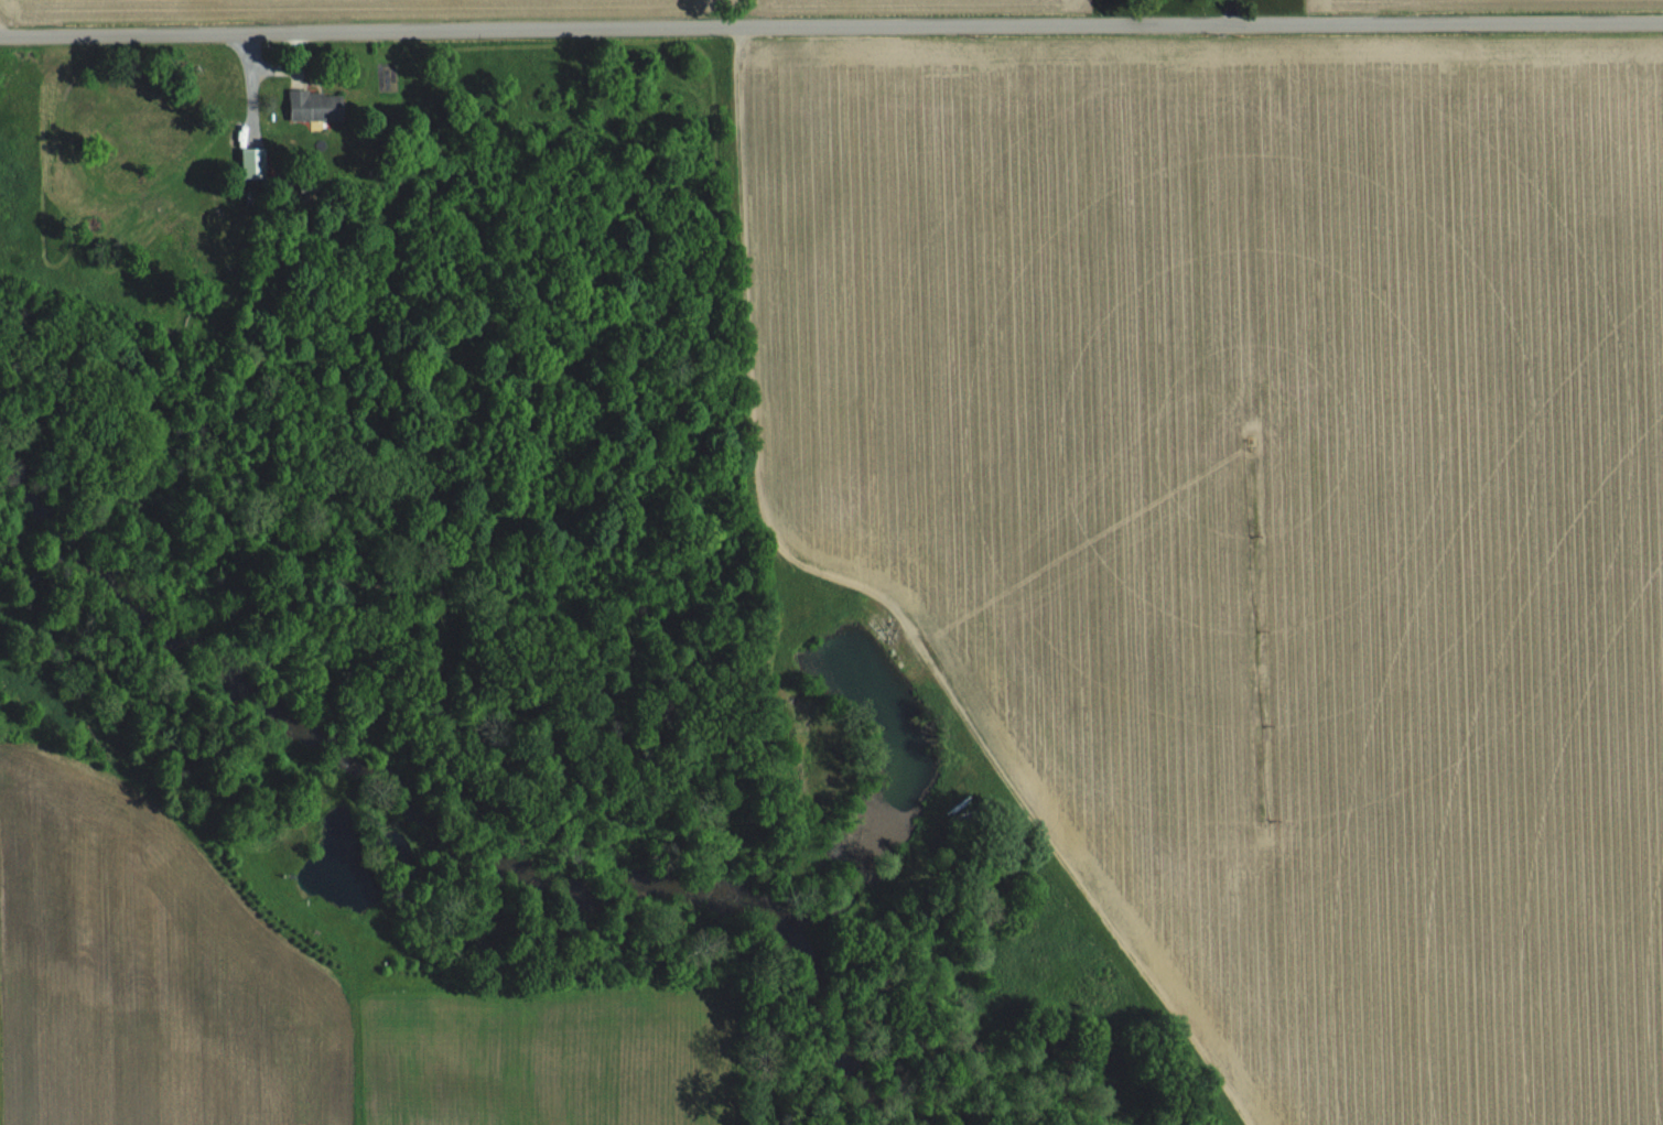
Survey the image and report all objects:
road: (831, 25)
building: (318, 105)

